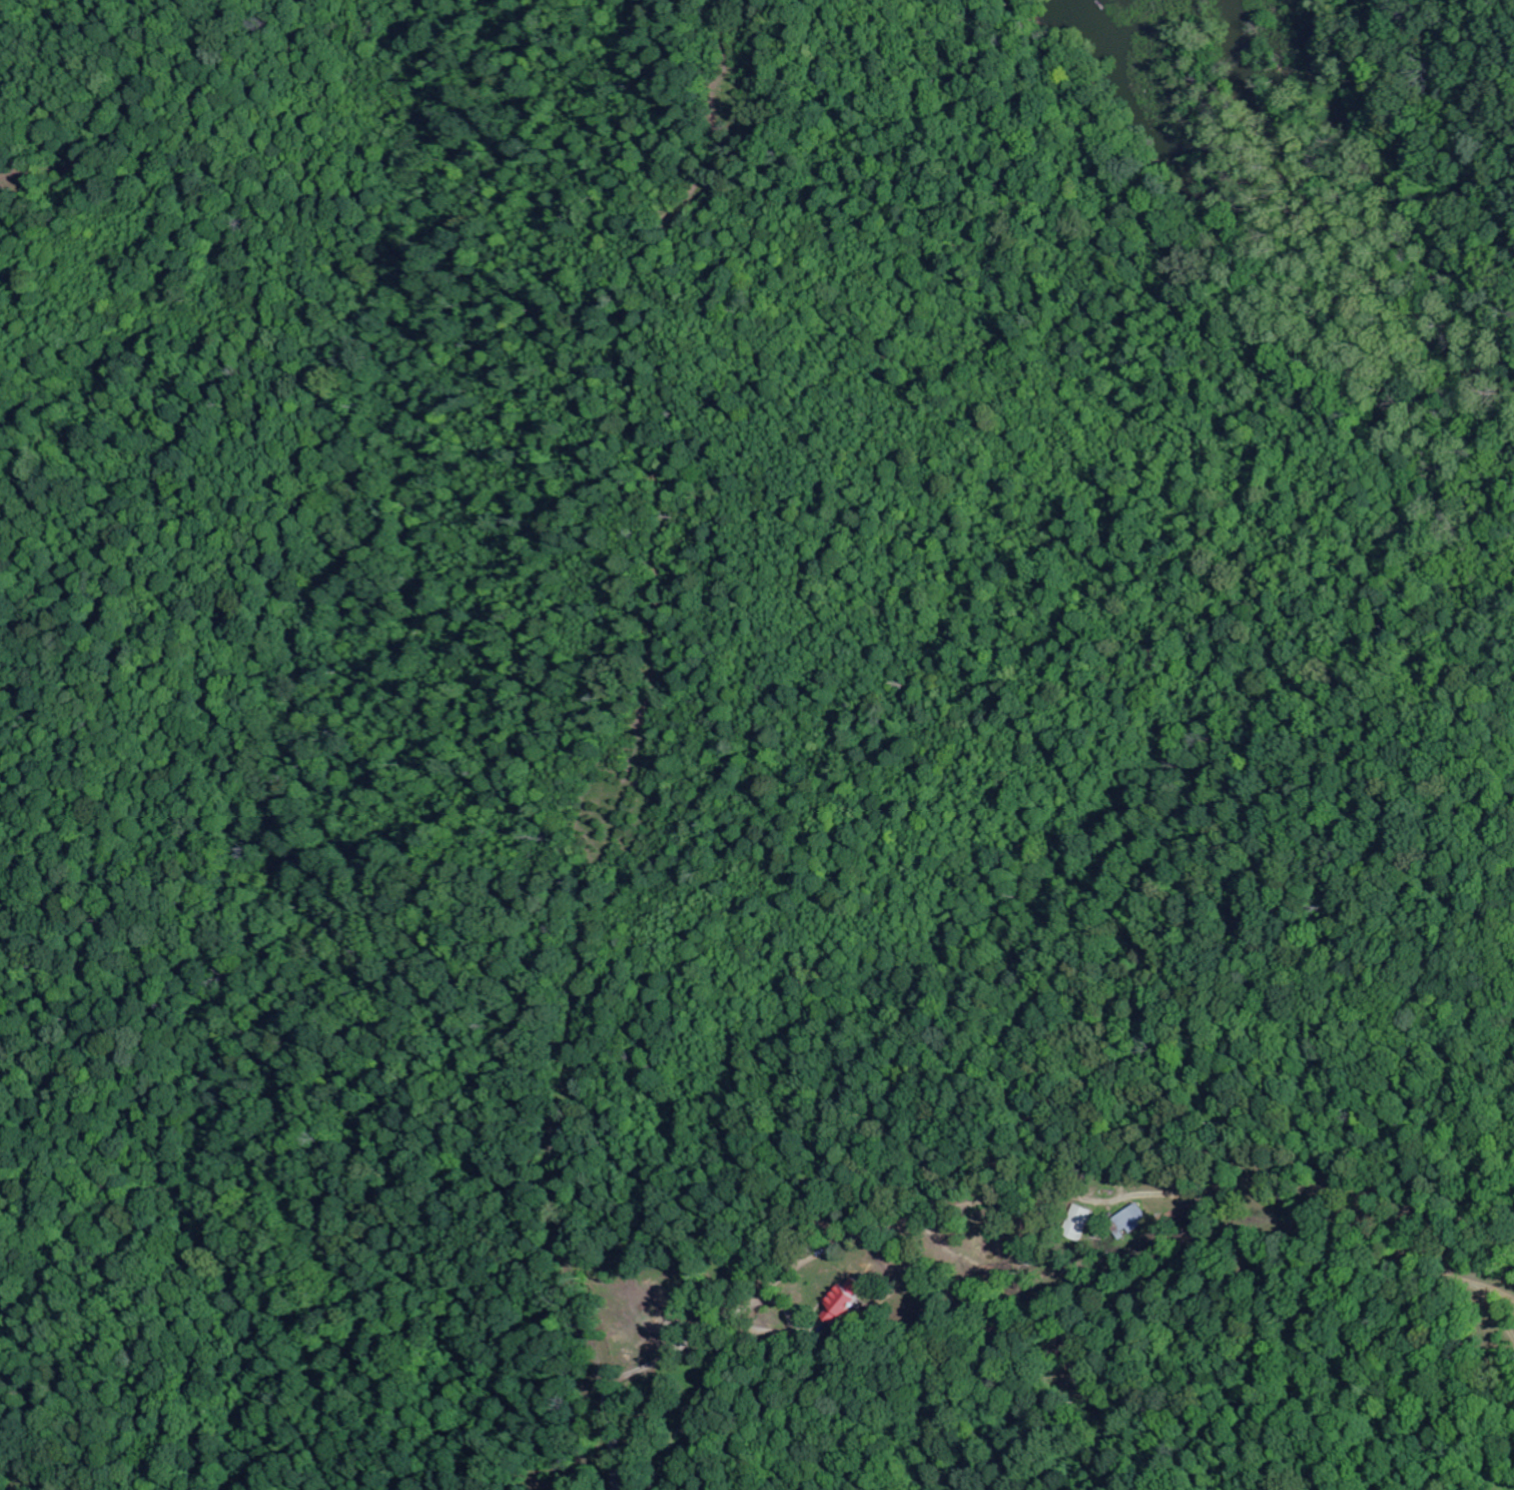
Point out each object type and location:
building: (1137, 1219)
building: (858, 1304)
road: (617, 1435)

